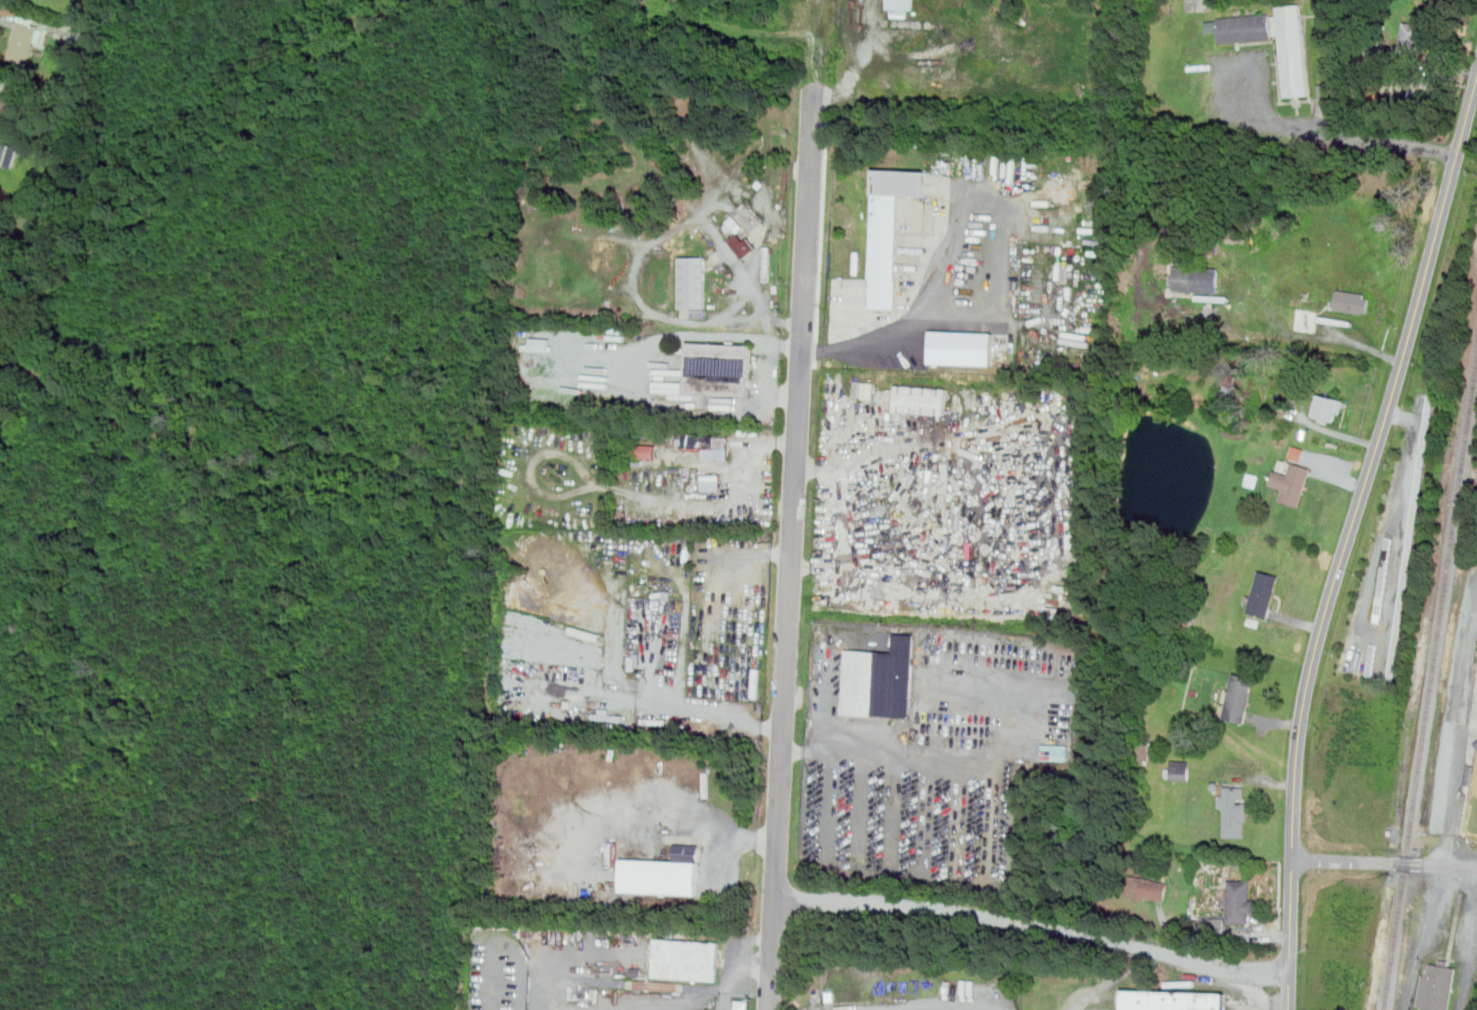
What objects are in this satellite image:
building: (901, 4)
building: (1241, 28)
building: (1410, 37)
building: (24, 41)
building: (1293, 50)
building: (10, 99)
road: (1261, 125)
building: (4, 152)
road: (959, 199)
building: (749, 214)
building: (890, 230)
building: (744, 245)
building: (1196, 278)
building: (692, 282)
building: (1352, 301)
building: (1306, 319)
building: (962, 347)
building: (717, 369)
road: (642, 370)
building: (668, 387)
building: (867, 390)
building: (919, 400)
building: (1328, 408)
building: (708, 447)
building: (643, 451)
building: (1297, 453)
building: (711, 482)
building: (1291, 482)
road: (1348, 538)
building: (1075, 540)
road: (790, 545)
building: (1383, 580)
building: (1264, 593)
road: (735, 609)
building: (882, 680)
railway: (1432, 690)
building: (1239, 697)
road: (654, 699)
road: (1460, 740)
road: (792, 752)
building: (1055, 752)
road: (897, 756)
building: (1181, 769)
street lamp: (1466, 792)
park: (1472, 806)
building: (1234, 810)
road: (677, 828)
road: (769, 841)
road: (1384, 864)
building: (664, 873)
building: (1147, 888)
building: (1241, 900)
building: (1214, 924)
road: (1033, 926)
building: (687, 959)
road: (567, 961)
building: (1437, 987)
road: (716, 988)
building: (1174, 1000)
road: (921, 1007)

